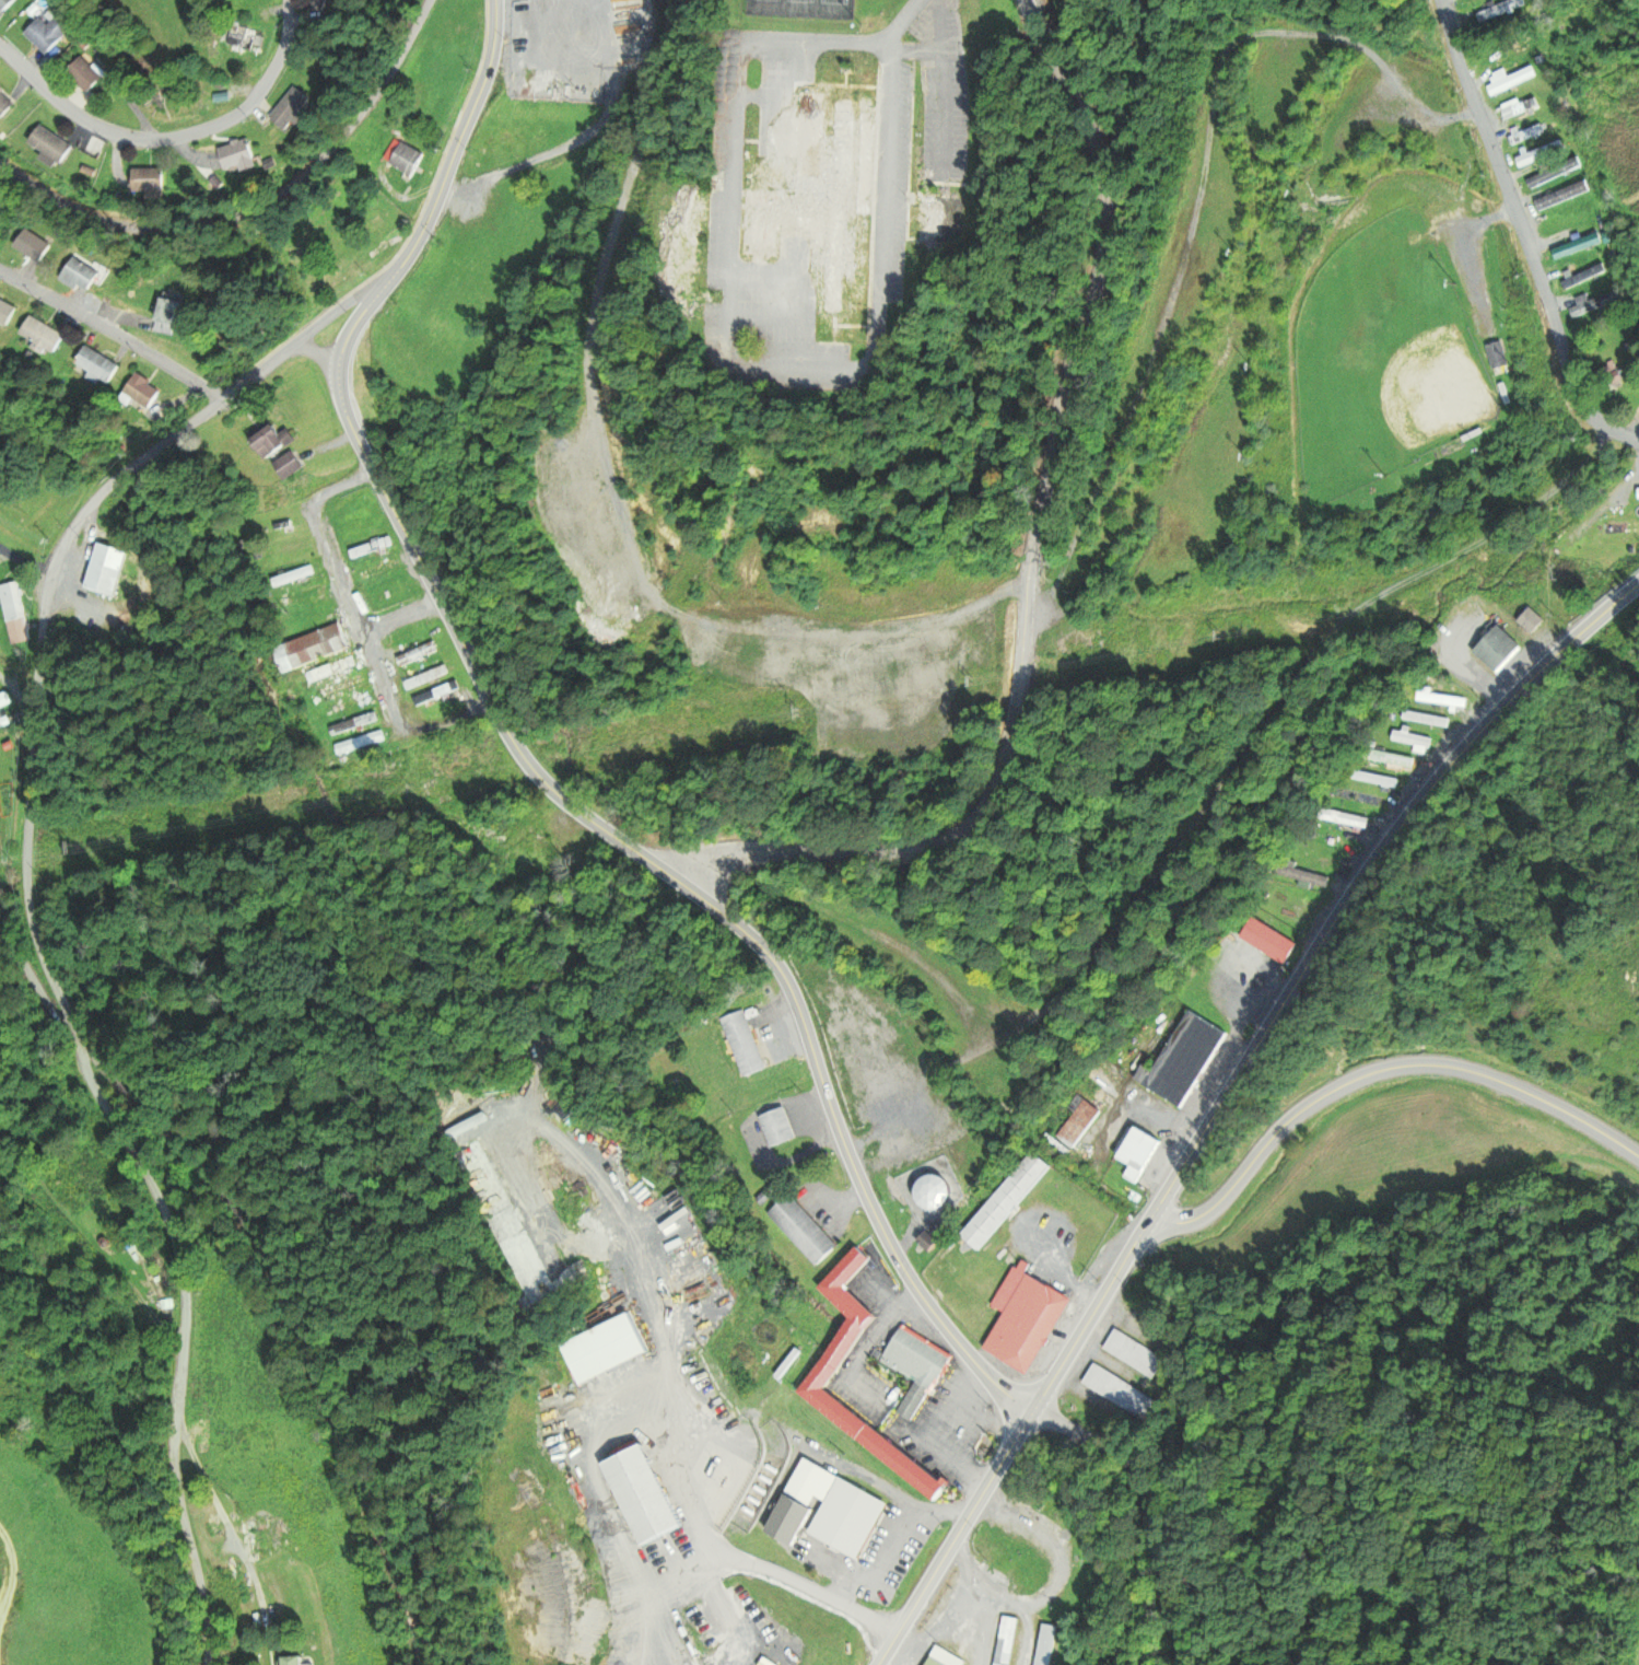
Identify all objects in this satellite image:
building: (5, 4)
building: (323, 5)
building: (460, 9)
park: (801, 9)
building: (1500, 10)
road: (904, 23)
building: (49, 33)
building: (248, 38)
building: (85, 74)
building: (1512, 79)
building: (4, 105)
building: (1520, 107)
building: (294, 108)
building: (1526, 133)
road: (169, 137)
building: (50, 145)
building: (1541, 153)
building: (239, 155)
building: (408, 160)
building: (1555, 173)
road: (443, 179)
building: (149, 182)
building: (818, 194)
building: (1560, 197)
building: (680, 218)
building: (1566, 222)
road: (1525, 237)
building: (32, 246)
building: (1578, 246)
building: (80, 276)
building: (1584, 277)
building: (1594, 303)
road: (71, 311)
building: (7, 313)
building: (169, 317)
building: (44, 335)
building: (1500, 354)
park: (1383, 362)
building: (99, 364)
road: (878, 365)
road: (183, 372)
building: (1609, 374)
building: (143, 392)
building: (274, 442)
building: (290, 466)
building: (354, 515)
building: (283, 523)
building: (1622, 526)
building: (371, 547)
road: (1030, 549)
power tower: (1554, 568)
building: (106, 570)
building: (381, 571)
building: (293, 577)
building: (390, 593)
building: (306, 596)
building: (14, 614)
building: (1532, 621)
power tower: (1220, 638)
building: (313, 648)
building: (1498, 650)
building: (417, 653)
building: (331, 668)
power tower: (977, 683)
building: (343, 685)
building: (440, 692)
building: (1442, 700)
building: (3, 701)
building: (354, 701)
power tower: (800, 708)
building: (1427, 719)
building: (1, 722)
building: (354, 723)
building: (1412, 741)
building: (360, 742)
power tower: (665, 752)
building: (1390, 758)
power tower: (411, 783)
building: (1357, 797)
power tower: (283, 812)
building: (1345, 819)
building: (1333, 840)
road: (1185, 841)
power tower: (75, 845)
road: (677, 872)
building: (1303, 877)
building: (1268, 940)
road: (34, 942)
building: (744, 1043)
building: (1183, 1059)
road: (1380, 1073)
road: (1227, 1097)
building: (1079, 1121)
building: (776, 1127)
building: (1139, 1153)
building: (935, 1191)
building: (60, 1192)
building: (1006, 1200)
building: (506, 1229)
building: (803, 1230)
building: (929, 1241)
building: (1025, 1317)
building: (605, 1348)
building: (839, 1353)
building: (1133, 1353)
building: (916, 1367)
building: (1115, 1388)
building: (644, 1494)
road: (1156, 1503)
building: (840, 1507)
building: (260, 1532)
building: (1006, 1640)
building: (1045, 1644)
building: (944, 1657)
building: (294, 1661)

